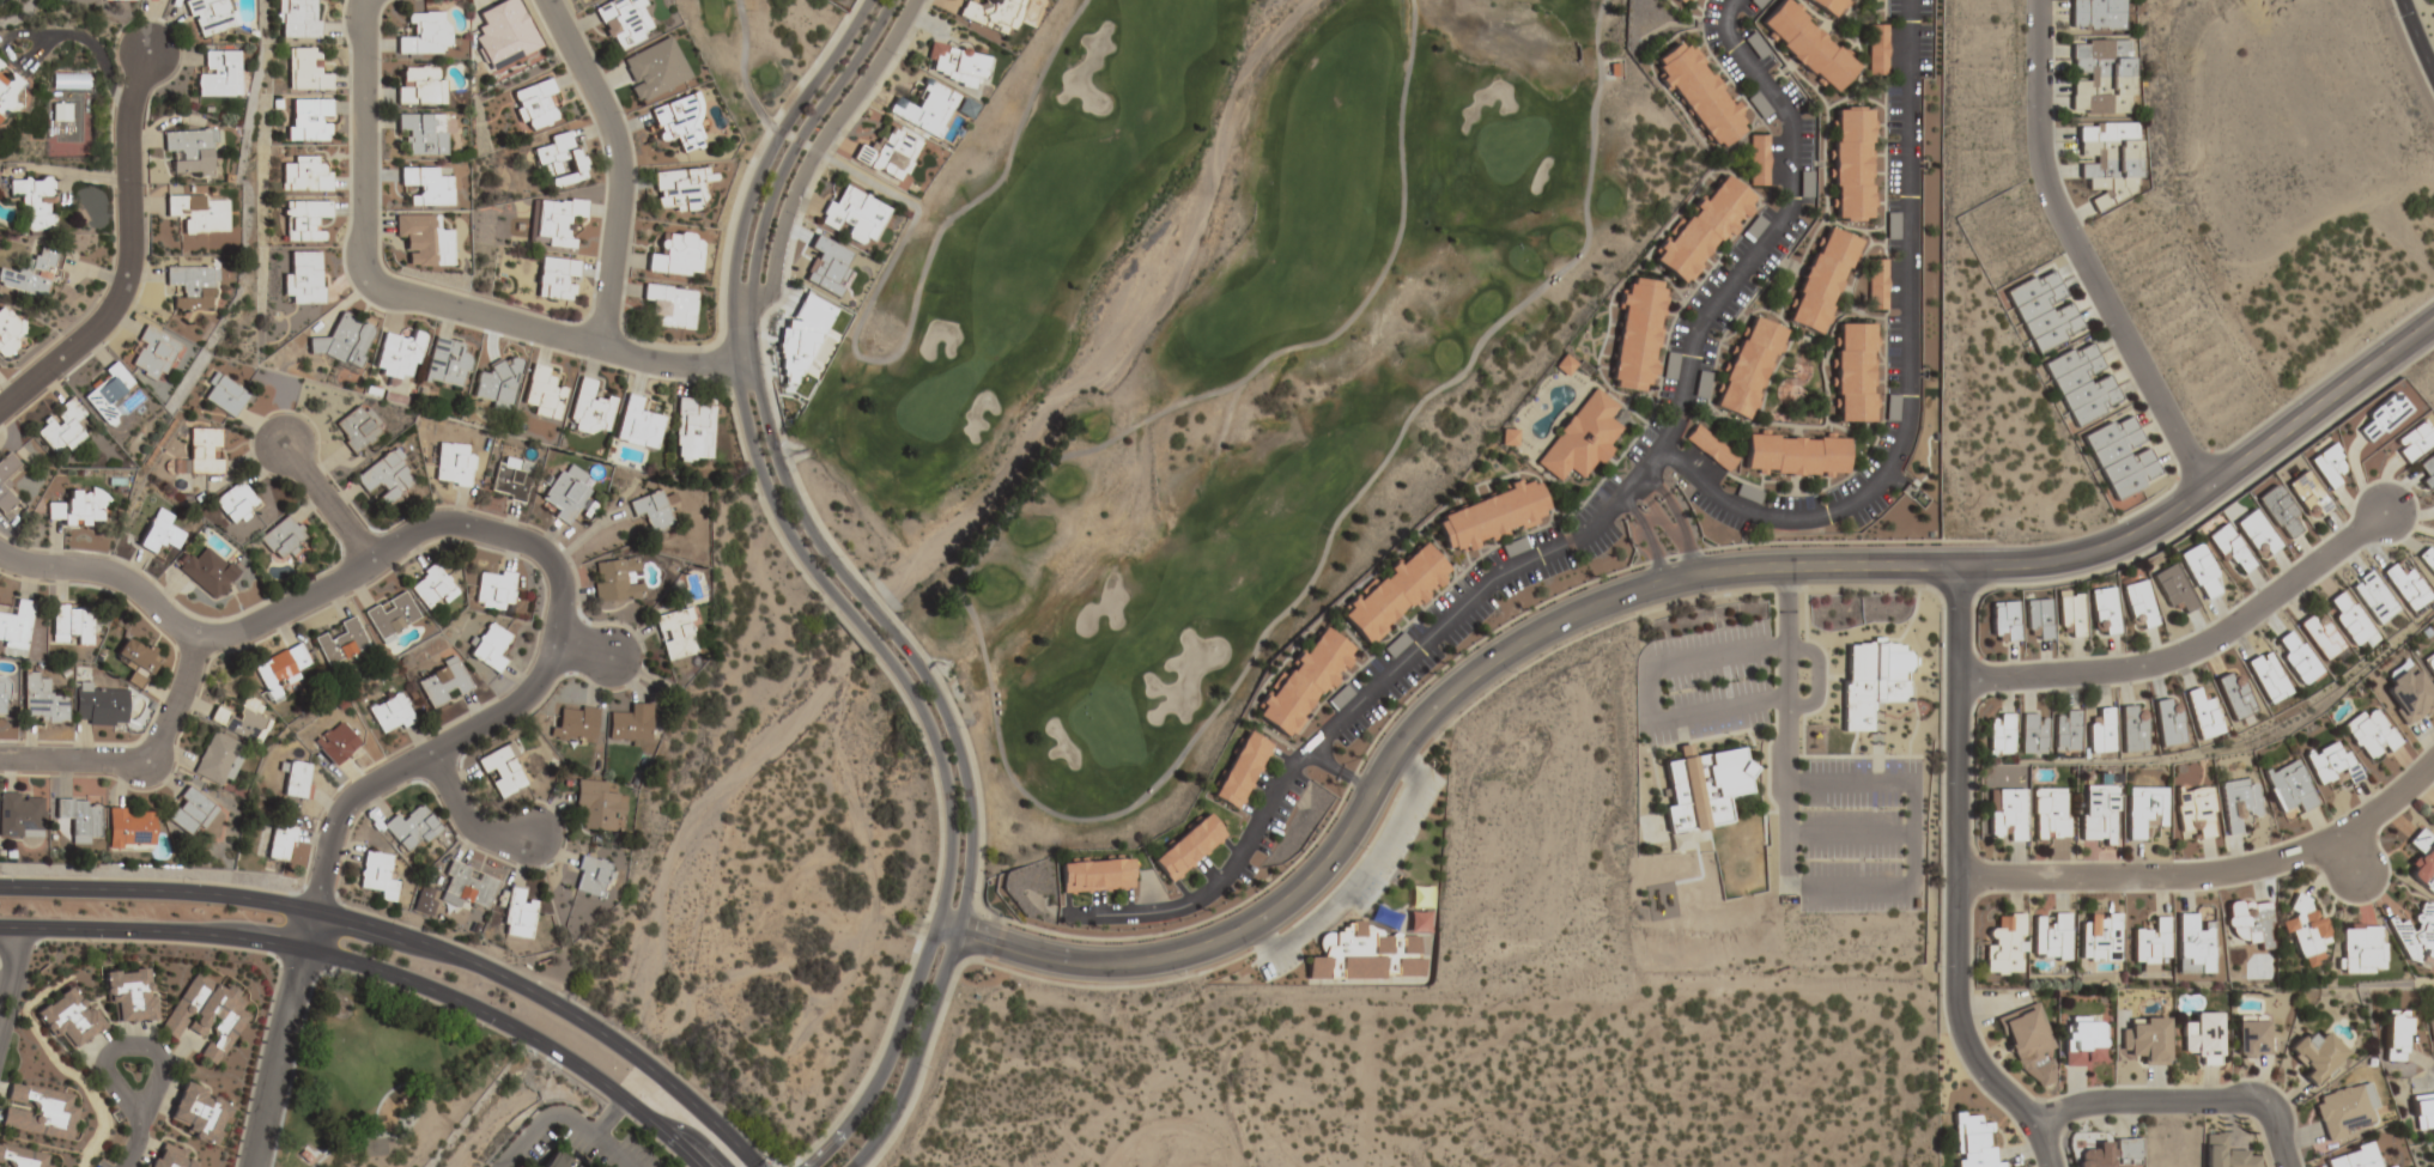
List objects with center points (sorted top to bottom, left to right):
building: (132, 0)
building: (1681, 2)
building: (1828, 6)
building: (993, 14)
building: (2095, 16)
street lamp: (2392, 16)
building: (207, 17)
building: (298, 19)
building: (623, 23)
building: (424, 35)
building: (504, 35)
road: (49, 37)
road: (2416, 38)
building: (1808, 45)
building: (1877, 50)
street lamp: (893, 55)
street lamp: (380, 61)
building: (955, 65)
building: (652, 69)
building: (306, 71)
building: (217, 74)
building: (2100, 78)
building: (69, 83)
building: (419, 86)
building: (8, 93)
building: (1700, 95)
building: (534, 104)
building: (1759, 105)
building: (924, 109)
street lamp: (624, 115)
building: (308, 121)
building: (678, 123)
building: (423, 133)
road: (819, 145)
building: (190, 152)
building: (887, 154)
building: (559, 160)
building: (1758, 160)
building: (2110, 160)
building: (1852, 164)
road: (620, 165)
building: (305, 176)
building: (424, 187)
building: (680, 189)
building: (35, 201)
building: (198, 213)
street lamp: (795, 217)
building: (854, 217)
building: (305, 220)
building: (562, 221)
road: (1777, 227)
building: (1702, 229)
building: (424, 241)
road: (128, 255)
building: (676, 255)
road: (2083, 257)
building: (32, 273)
street lamp: (396, 274)
building: (303, 279)
building: (557, 279)
building: (1822, 280)
road: (751, 281)
building: (1877, 284)
building: (192, 287)
road: (730, 297)
road: (421, 298)
building: (669, 306)
building: (2044, 311)
building: (10, 332)
building: (1638, 335)
building: (344, 341)
park: (1196, 346)
road: (852, 351)
building: (152, 353)
building: (399, 358)
street lamp: (579, 360)
building: (445, 364)
street lamp: (761, 365)
building: (1670, 365)
building: (1564, 366)
building: (1749, 367)
road: (1910, 371)
building: (1856, 373)
building: (2082, 383)
building: (497, 384)
building: (1702, 384)
building: (108, 394)
building: (544, 394)
building: (226, 396)
building: (589, 409)
building: (2381, 418)
building: (638, 425)
building: (61, 426)
building: (354, 430)
building: (693, 431)
building: (1507, 437)
building: (1582, 438)
building: (2414, 442)
building: (1711, 448)
building: (202, 452)
building: (1796, 455)
building: (2120, 457)
building: (453, 464)
building: (2326, 466)
building: (2427, 472)
building: (386, 479)
building: (510, 479)
street lamp: (2366, 484)
building: (5, 493)
building: (564, 493)
building: (1748, 493)
building: (2307, 496)
road: (332, 502)
building: (235, 503)
building: (79, 509)
building: (652, 511)
building: (2280, 512)
building: (1492, 517)
road: (1668, 522)
road: (1647, 531)
building: (160, 533)
building: (2254, 533)
building: (283, 537)
building: (1513, 547)
building: (2227, 549)
street lamp: (836, 557)
building: (2199, 571)
building: (208, 572)
road: (110, 573)
building: (617, 579)
building: (2405, 584)
building: (431, 588)
road: (1646, 588)
building: (2172, 589)
building: (494, 590)
building: (1394, 592)
street lamp: (1707, 595)
building: (2373, 597)
building: (2136, 604)
road: (867, 606)
street lamp: (1940, 609)
building: (2101, 612)
building: (2069, 614)
building: (390, 616)
road: (560, 619)
building: (2037, 620)
building: (2350, 620)
building: (2003, 622)
building: (16, 625)
building: (71, 625)
road: (857, 626)
building: (675, 634)
building: (2320, 636)
building: (340, 642)
street lamp: (2167, 642)
building: (1394, 646)
building: (490, 648)
road: (2191, 650)
road: (588, 651)
building: (2296, 657)
building: (136, 660)
building: (2429, 664)
building: (280, 670)
road: (1816, 670)
street lamp: (1511, 674)
building: (2268, 677)
street lamp: (1803, 679)
street lamp: (1741, 680)
building: (1872, 680)
building: (1303, 682)
building: (443, 683)
street lamp: (1691, 689)
road: (1647, 693)
building: (2408, 694)
building: (2, 695)
building: (2235, 697)
building: (1339, 698)
building: (42, 701)
road: (1365, 704)
building: (99, 706)
building: (391, 715)
building: (2203, 715)
road: (1786, 718)
street lamp: (1919, 721)
building: (2168, 721)
building: (241, 722)
building: (575, 724)
building: (630, 725)
street lamp: (957, 727)
building: (2065, 731)
building: (2132, 731)
building: (2101, 733)
building: (2002, 734)
building: (2034, 734)
building: (2368, 735)
street lamp: (1731, 737)
building: (335, 742)
street lamp: (1828, 754)
street lamp: (1861, 754)
street lamp: (1887, 754)
building: (216, 760)
road: (140, 761)
building: (2329, 764)
road: (1343, 767)
building: (1239, 770)
building: (502, 771)
building: (296, 780)
street lamp: (1938, 784)
building: (2288, 788)
building: (1701, 789)
building: (2236, 803)
building: (600, 806)
road: (1043, 809)
street lamp: (1832, 809)
street lamp: (1878, 809)
building: (2144, 809)
building: (190, 812)
building: (2195, 812)
building: (2099, 813)
building: (2050, 814)
building: (2005, 815)
building: (20, 816)
road: (475, 817)
building: (79, 821)
street lamp: (320, 821)
building: (130, 828)
building: (411, 829)
road: (1850, 834)
road: (1913, 839)
building: (279, 841)
building: (1186, 847)
street lamp: (1362, 850)
road: (2347, 853)
street lamp: (1762, 855)
street lamp: (2122, 859)
street lamp: (1831, 861)
street lamp: (1876, 861)
road: (1955, 862)
building: (2422, 862)
street lamp: (1713, 864)
street lamp: (2, 874)
road: (2210, 874)
building: (1094, 875)
building: (377, 876)
building: (590, 876)
street lamp: (190, 880)
building: (455, 891)
street lamp: (972, 892)
road: (964, 899)
street lamp: (2372, 904)
building: (518, 916)
road: (936, 917)
street lamp: (401, 922)
building: (2250, 923)
building: (2305, 930)
building: (2051, 937)
building: (2100, 937)
building: (2416, 938)
road: (411, 940)
street lamp: (91, 943)
building: (2150, 944)
building: (2005, 946)
building: (2193, 946)
building: (2361, 949)
building: (1349, 955)
road: (13, 956)
street lamp: (1937, 967)
street lamp: (275, 970)
road: (376, 972)
street lamp: (1179, 975)
road: (2, 986)
building: (129, 997)
road: (12, 999)
building: (206, 1016)
building: (69, 1021)
road: (5, 1022)
building: (2430, 1025)
street lamp: (480, 1026)
building: (2397, 1037)
building: (2202, 1040)
building: (2082, 1041)
building: (2147, 1041)
building: (2251, 1041)
building: (2029, 1046)
building: (2317, 1057)
road: (277, 1058)
park: (381, 1077)
street lamp: (2272, 1083)
road: (150, 1095)
road: (2179, 1101)
road: (320, 1107)
building: (2344, 1110)
building: (2423, 1112)
building: (38, 1113)
building: (195, 1114)
road: (562, 1118)
road: (607, 1119)
road: (374, 1133)
road: (136, 1135)
road: (335, 1136)
building: (1973, 1142)
street lamp: (657, 1145)
road: (2046, 1149)
building: (2224, 1153)
building: (2108, 1154)
building: (168, 1156)
building: (25, 1157)
building: (2354, 1157)
building: (556, 1162)
street lamp: (2032, 1166)

